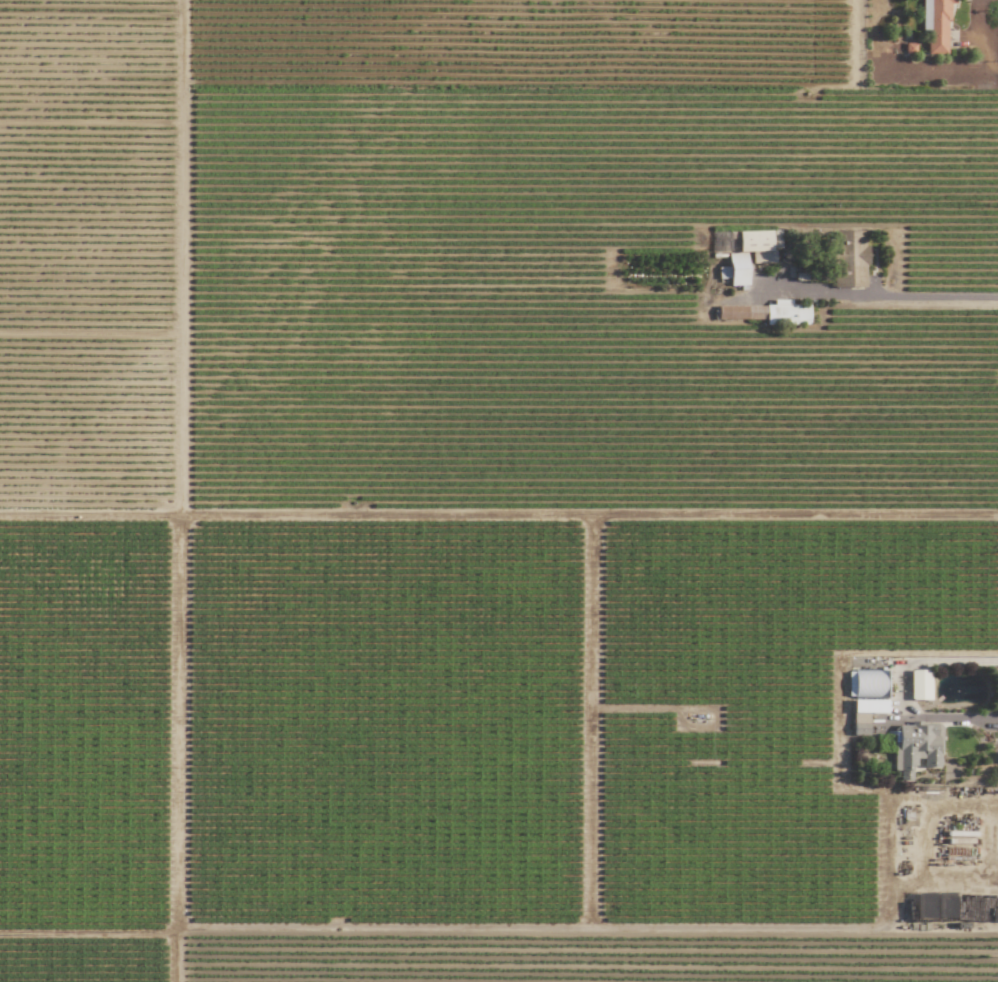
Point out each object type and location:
building: (936, 25)
building: (776, 239)
building: (757, 245)
building: (735, 270)
road: (881, 296)
building: (767, 313)
building: (866, 684)
building: (919, 684)
road: (901, 692)
building: (860, 724)
building: (914, 747)

